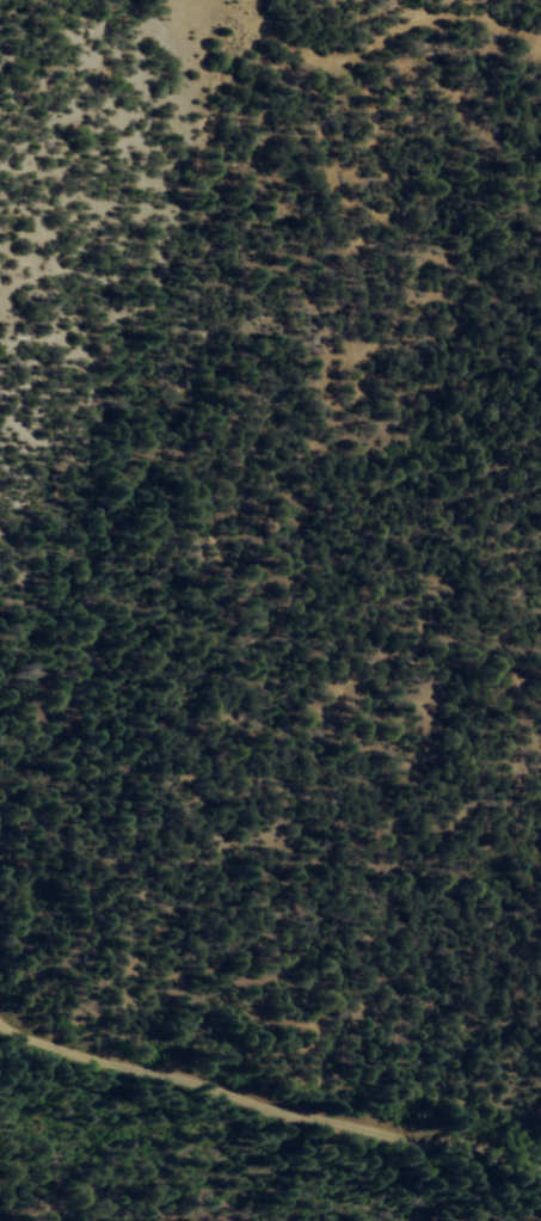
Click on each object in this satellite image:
road: (496, 37)
road: (270, 1035)

